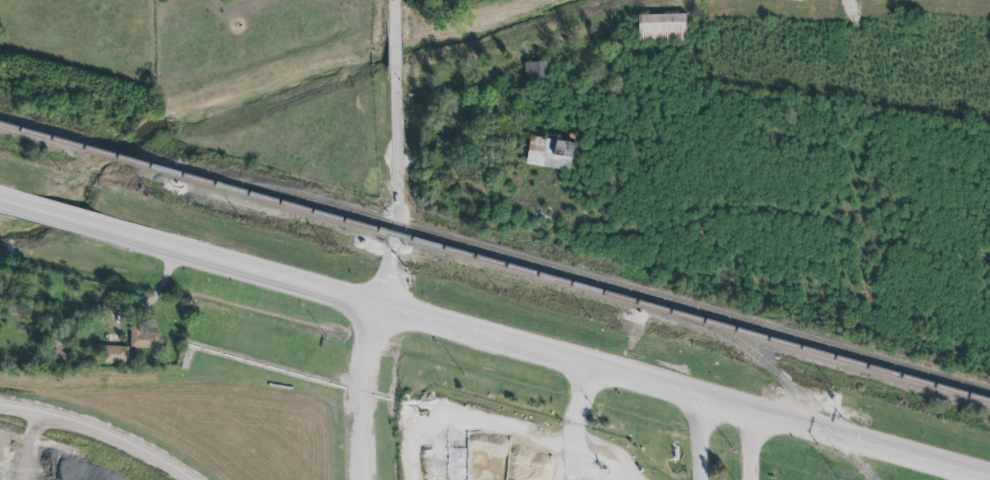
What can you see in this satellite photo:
building: (661, 28)
building: (535, 72)
building: (549, 154)
road: (403, 155)
railway: (495, 260)
railway: (601, 281)
building: (144, 339)
road: (494, 341)
building: (115, 355)
railway: (767, 370)
road: (363, 392)
railway: (101, 429)
road: (698, 438)
road: (573, 439)
road: (749, 446)
railway: (402, 448)

